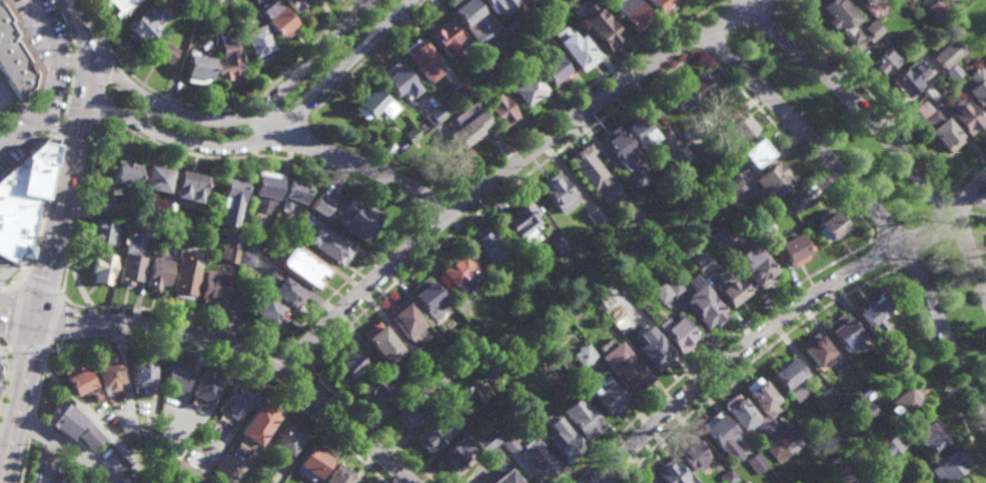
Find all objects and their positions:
building: (174, 1)
road: (712, 1)
building: (868, 1)
building: (292, 4)
building: (497, 4)
building: (546, 4)
building: (664, 4)
road: (721, 4)
road: (746, 4)
road: (752, 4)
building: (940, 4)
building: (956, 5)
building: (117, 6)
road: (795, 6)
building: (206, 7)
road: (749, 8)
building: (468, 13)
road: (782, 13)
building: (634, 14)
road: (91, 18)
building: (276, 19)
building: (842, 19)
road: (761, 20)
building: (148, 21)
road: (64, 24)
road: (119, 25)
road: (686, 27)
building: (513, 29)
building: (605, 29)
building: (536, 32)
road: (739, 33)
building: (445, 39)
road: (697, 39)
building: (504, 40)
building: (880, 40)
road: (102, 41)
building: (255, 41)
road: (87, 43)
road: (714, 44)
building: (163, 49)
building: (577, 50)
building: (511, 52)
road: (705, 52)
building: (948, 53)
building: (16, 55)
road: (116, 57)
road: (70, 59)
building: (226, 59)
building: (421, 59)
building: (478, 59)
road: (75, 60)
road: (366, 60)
building: (885, 60)
building: (493, 64)
building: (196, 69)
building: (554, 72)
building: (953, 72)
building: (486, 73)
road: (123, 79)
building: (906, 79)
parking lot: (55, 81)
building: (397, 81)
road: (47, 83)
building: (978, 86)
building: (525, 88)
road: (5, 91)
building: (461, 91)
building: (691, 91)
road: (110, 92)
road: (114, 92)
road: (580, 92)
building: (931, 93)
road: (68, 95)
road: (257, 101)
road: (877, 102)
building: (372, 104)
road: (290, 107)
road: (106, 108)
building: (501, 110)
road: (84, 115)
building: (435, 115)
building: (966, 115)
road: (245, 118)
building: (938, 127)
road: (56, 128)
road: (61, 128)
building: (468, 128)
building: (641, 129)
building: (739, 129)
road: (248, 134)
building: (410, 135)
building: (685, 135)
road: (271, 137)
road: (886, 139)
road: (297, 142)
building: (617, 144)
road: (791, 145)
building: (756, 152)
building: (709, 154)
building: (680, 155)
road: (381, 156)
road: (264, 159)
road: (355, 162)
road: (71, 163)
road: (511, 173)
building: (124, 174)
building: (593, 174)
road: (966, 176)
building: (156, 177)
building: (735, 182)
building: (772, 183)
building: (632, 184)
building: (190, 186)
building: (265, 189)
road: (451, 192)
building: (558, 192)
building: (293, 194)
road: (968, 198)
building: (23, 199)
road: (495, 200)
building: (736, 200)
building: (318, 201)
building: (799, 201)
road: (938, 202)
building: (110, 204)
building: (227, 204)
road: (457, 205)
road: (982, 205)
road: (80, 206)
road: (434, 206)
road: (42, 210)
road: (876, 214)
building: (595, 215)
road: (466, 217)
road: (916, 218)
building: (139, 220)
building: (359, 220)
building: (122, 222)
building: (171, 223)
building: (521, 223)
building: (768, 225)
road: (979, 225)
building: (829, 226)
road: (425, 227)
building: (285, 228)
building: (102, 231)
road: (888, 234)
road: (962, 234)
building: (720, 238)
building: (233, 240)
road: (435, 242)
building: (559, 243)
building: (486, 244)
building: (251, 245)
building: (328, 247)
road: (871, 247)
road: (938, 248)
building: (791, 249)
building: (268, 254)
building: (229, 255)
road: (878, 258)
building: (246, 259)
road: (912, 261)
building: (702, 263)
building: (130, 267)
building: (101, 268)
building: (302, 268)
road: (887, 269)
building: (757, 270)
building: (158, 272)
building: (458, 274)
building: (184, 282)
road: (345, 284)
road: (11, 287)
building: (674, 287)
road: (41, 288)
building: (214, 288)
building: (241, 290)
building: (281, 291)
building: (732, 292)
building: (661, 293)
building: (428, 299)
building: (704, 305)
building: (878, 311)
building: (267, 312)
road: (174, 313)
road: (16, 314)
road: (781, 315)
building: (471, 317)
building: (404, 319)
road: (54, 320)
road: (17, 324)
building: (622, 325)
traffic signals: (36, 328)
building: (843, 334)
building: (677, 335)
building: (451, 343)
building: (382, 344)
road: (29, 346)
road: (715, 347)
building: (652, 351)
building: (815, 351)
road: (6, 352)
road: (244, 353)
building: (583, 355)
road: (294, 359)
road: (751, 361)
building: (428, 363)
road: (309, 365)
road: (234, 367)
building: (349, 367)
road: (941, 367)
building: (373, 369)
building: (624, 369)
building: (106, 375)
building: (441, 376)
building: (141, 377)
building: (174, 377)
building: (787, 380)
road: (41, 381)
building: (76, 382)
road: (2, 384)
building: (400, 385)
building: (204, 389)
building: (377, 390)
building: (515, 394)
building: (605, 397)
building: (760, 398)
building: (826, 399)
building: (236, 401)
road: (19, 405)
building: (901, 407)
building: (869, 413)
building: (409, 414)
building: (739, 414)
building: (581, 419)
road: (373, 425)
road: (32, 427)
building: (69, 427)
building: (255, 428)
building: (717, 432)
building: (437, 433)
building: (227, 438)
building: (916, 439)
building: (164, 440)
building: (287, 441)
building: (487, 442)
building: (563, 442)
building: (510, 445)
building: (781, 445)
road: (65, 450)
building: (694, 455)
building: (455, 456)
building: (833, 460)
road: (25, 461)
building: (540, 461)
road: (50, 462)
building: (497, 463)
building: (948, 464)
building: (311, 465)
building: (756, 465)
building: (224, 468)
building: (668, 473)
building: (340, 475)
building: (507, 478)
building: (727, 478)
building: (646, 482)
building: (938, 482)

